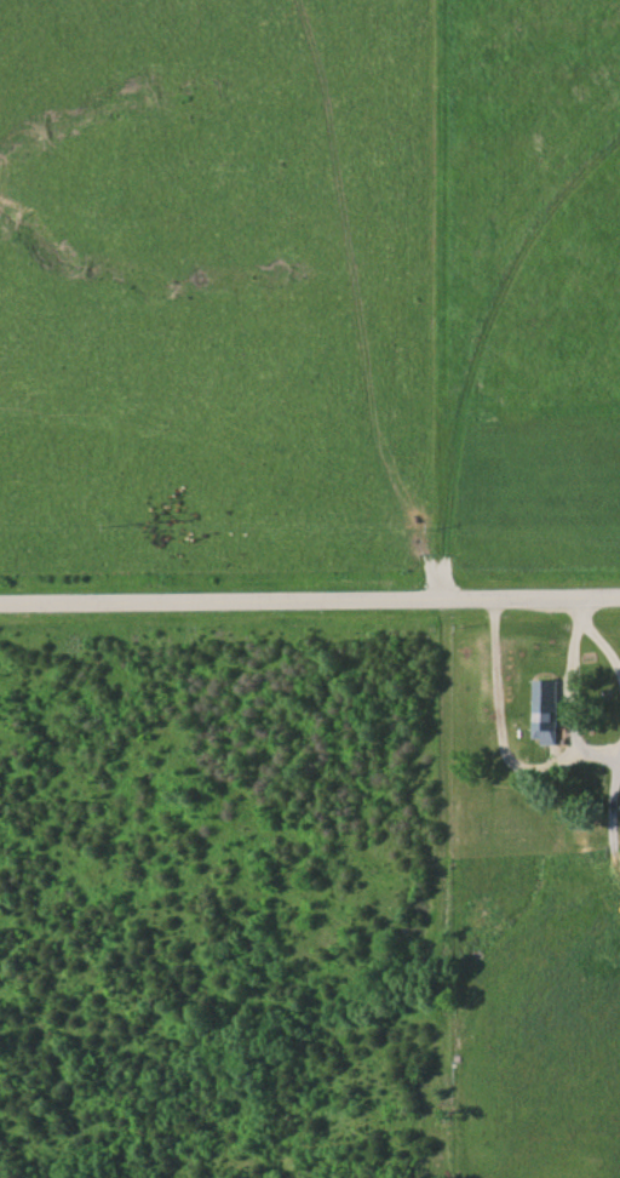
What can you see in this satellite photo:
road: (309, 596)
building: (549, 710)

